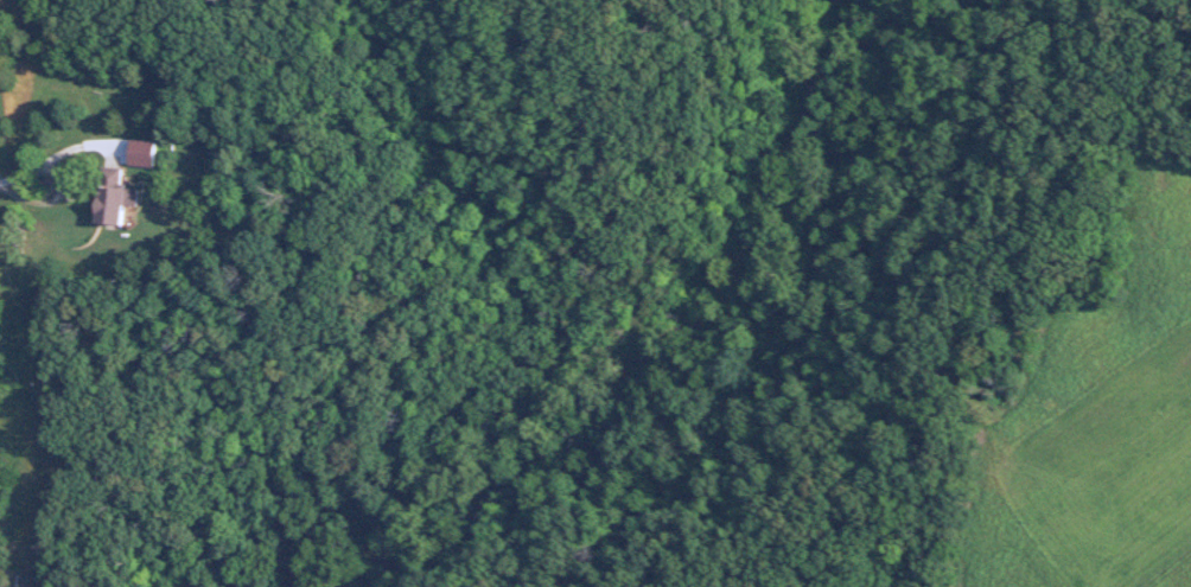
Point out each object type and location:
road: (21, 185)
building: (110, 196)

